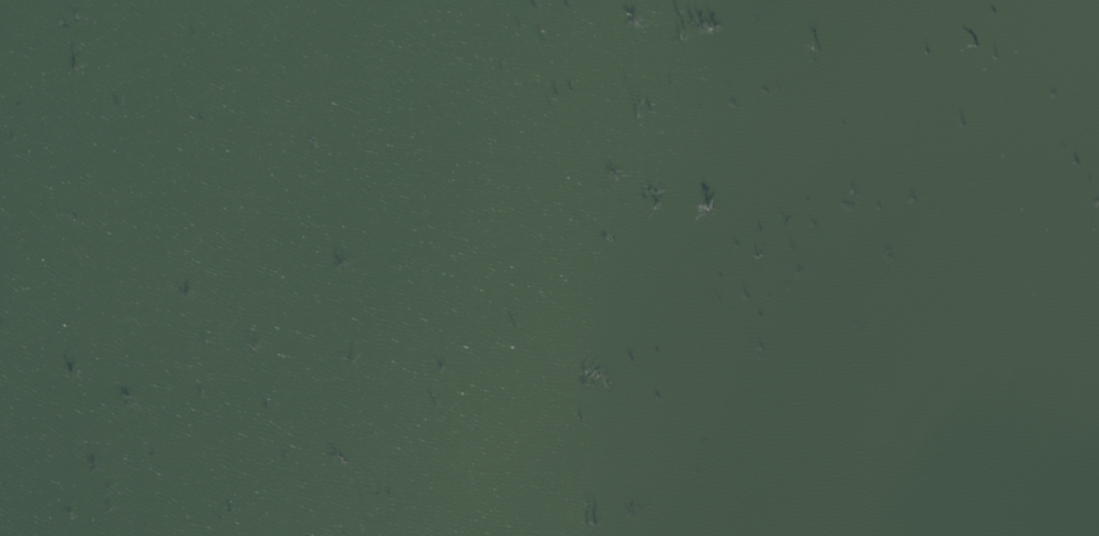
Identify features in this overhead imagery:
building: (662, 191)
building: (704, 204)

